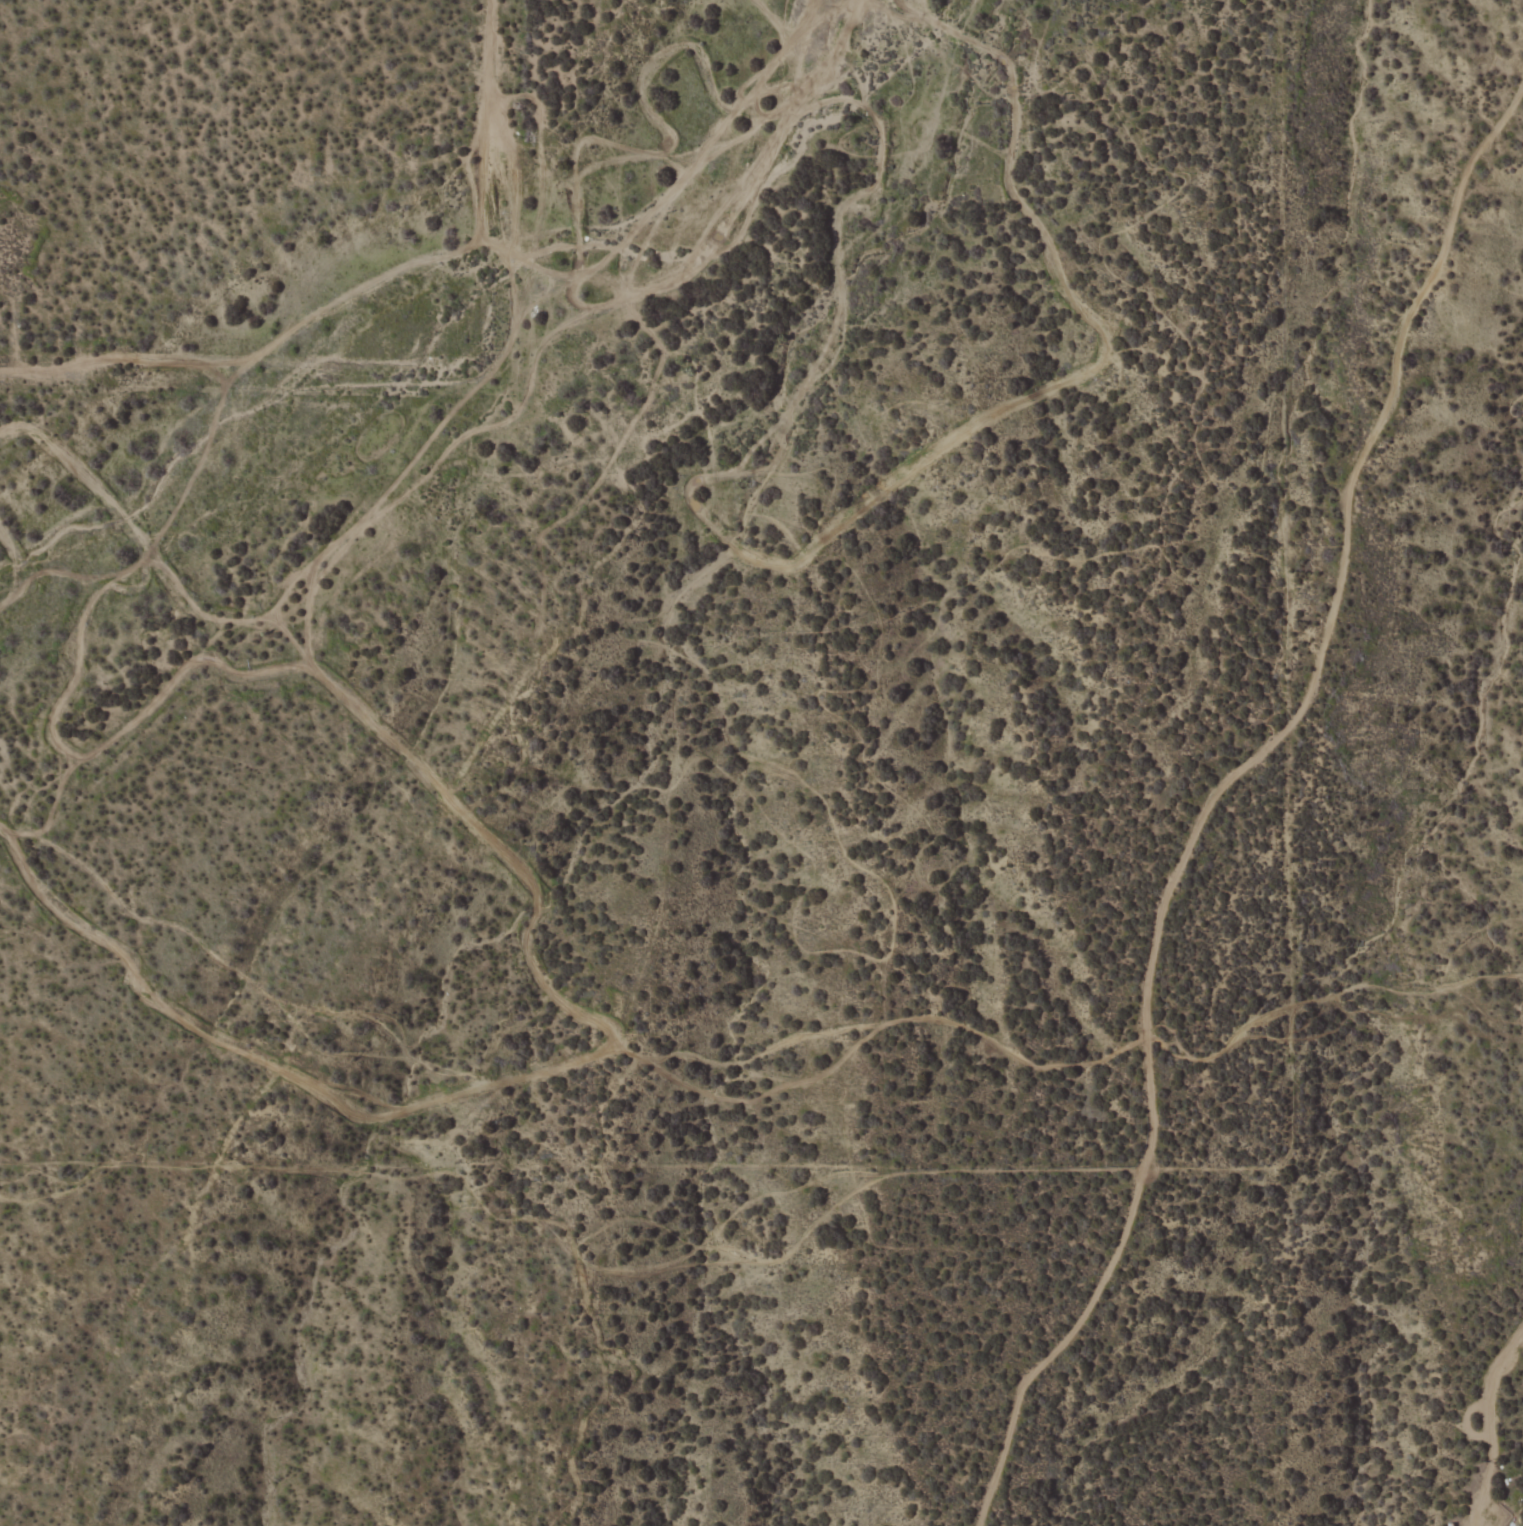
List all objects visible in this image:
road: (499, 118)
road: (456, 255)
road: (1217, 792)
road: (1491, 1428)

